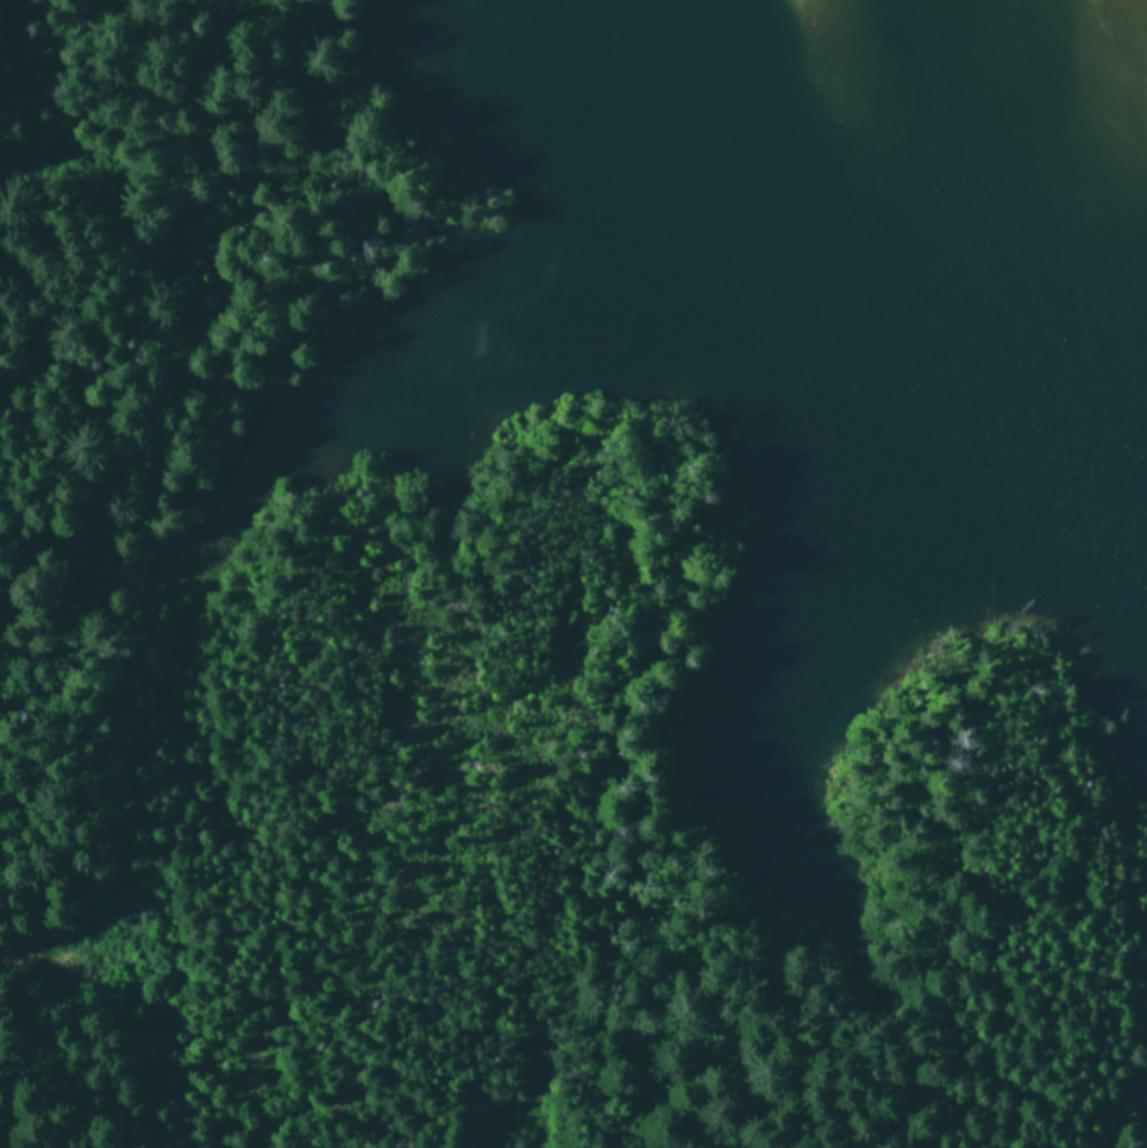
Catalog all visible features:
road: (177, 429)
road: (654, 445)

